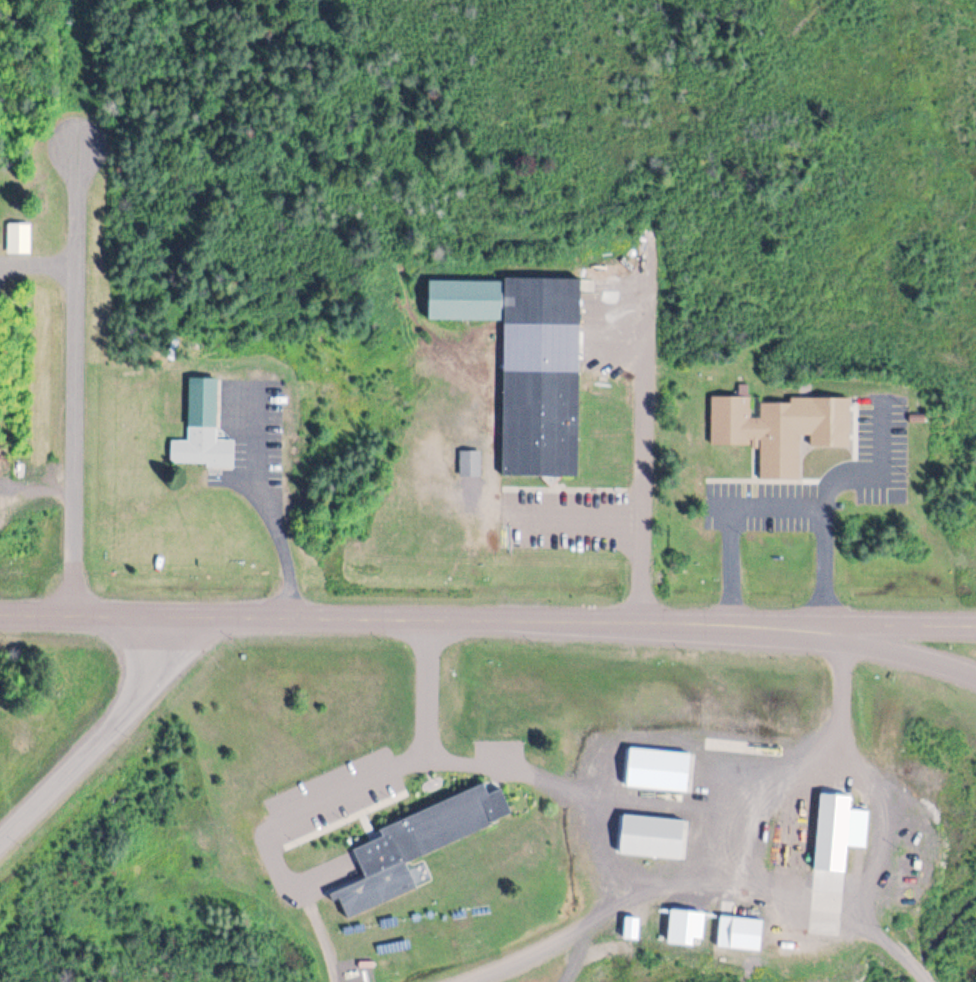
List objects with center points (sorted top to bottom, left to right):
building: (20, 236)
building: (459, 299)
building: (537, 374)
road: (78, 378)
building: (202, 426)
building: (759, 431)
road: (646, 449)
building: (469, 460)
road: (40, 486)
road: (779, 507)
road: (273, 508)
road: (392, 619)
road: (880, 624)
road: (880, 648)
road: (429, 690)
road: (104, 735)
road: (802, 765)
building: (658, 768)
road: (588, 810)
road: (265, 827)
building: (835, 830)
building: (425, 832)
building: (653, 834)
road: (704, 887)
building: (752, 933)

